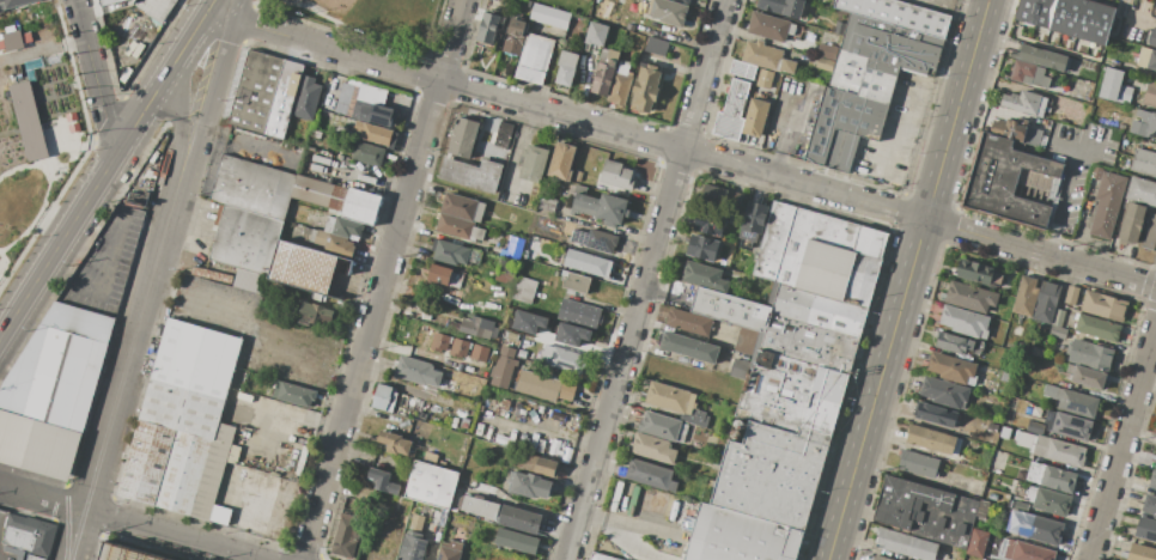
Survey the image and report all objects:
building: (682, 1)
building: (13, 2)
building: (108, 2)
building: (156, 7)
building: (781, 7)
building: (668, 11)
park: (367, 14)
building: (899, 14)
park: (379, 17)
building: (549, 17)
building: (1069, 17)
building: (1155, 18)
road: (1139, 20)
road: (195, 28)
building: (488, 28)
building: (772, 28)
building: (839, 28)
building: (596, 34)
building: (515, 37)
building: (1152, 38)
building: (10, 39)
building: (656, 45)
building: (827, 51)
building: (766, 56)
building: (1042, 57)
building: (534, 59)
building: (1148, 60)
road: (224, 62)
building: (825, 63)
building: (566, 68)
building: (743, 69)
building: (604, 72)
building: (1029, 73)
road: (96, 77)
building: (765, 78)
building: (620, 85)
building: (865, 85)
building: (1114, 87)
building: (645, 89)
building: (1070, 93)
building: (266, 95)
building: (1150, 95)
building: (371, 96)
building: (308, 98)
building: (343, 98)
building: (1024, 103)
building: (732, 111)
building: (364, 112)
road: (913, 112)
building: (381, 115)
building: (1144, 116)
building: (755, 117)
building: (26, 121)
crop: (34, 122)
road: (181, 126)
building: (1151, 126)
building: (1138, 128)
building: (1008, 129)
road: (785, 132)
building: (376, 134)
building: (503, 135)
building: (463, 138)
road: (80, 142)
road: (1079, 147)
road: (521, 150)
road: (680, 150)
building: (367, 153)
road: (190, 159)
road: (68, 160)
building: (561, 162)
building: (1144, 162)
building: (533, 163)
road: (25, 166)
building: (473, 174)
building: (1096, 174)
building: (616, 175)
road: (371, 177)
building: (1012, 183)
building: (253, 187)
building: (579, 189)
building: (1142, 190)
building: (320, 193)
road: (89, 196)
building: (725, 197)
road: (1060, 200)
building: (547, 203)
building: (1108, 205)
building: (360, 206)
building: (462, 207)
building: (602, 208)
road: (38, 214)
building: (577, 220)
building: (756, 220)
building: (713, 221)
building: (1131, 224)
road: (51, 225)
building: (343, 227)
building: (460, 227)
building: (1149, 232)
building: (244, 238)
building: (596, 241)
building: (335, 244)
building: (706, 246)
building: (513, 248)
road: (84, 252)
building: (455, 254)
building: (821, 254)
road: (1, 260)
road: (108, 263)
building: (588, 263)
building: (311, 270)
building: (505, 273)
building: (978, 273)
building: (710, 275)
building: (446, 276)
railway: (151, 279)
road: (382, 279)
road: (907, 279)
road: (645, 280)
building: (250, 281)
building: (576, 284)
road: (13, 287)
building: (524, 290)
building: (1071, 296)
building: (969, 297)
building: (1026, 297)
road: (197, 302)
building: (1046, 303)
building: (1103, 306)
building: (736, 308)
building: (820, 309)
building: (317, 314)
building: (579, 314)
building: (527, 321)
building: (965, 321)
building: (692, 322)
building: (1058, 324)
building: (479, 328)
building: (1097, 328)
building: (570, 334)
building: (512, 336)
building: (746, 341)
building: (440, 342)
building: (527, 342)
building: (810, 342)
building: (957, 343)
building: (458, 347)
building: (696, 347)
building: (1036, 352)
building: (479, 353)
building: (1089, 354)
building: (561, 358)
building: (503, 367)
building: (741, 369)
building: (951, 369)
building: (416, 371)
building: (1085, 376)
road: (124, 377)
building: (1006, 377)
building: (190, 379)
building: (544, 386)
building: (51, 389)
building: (1049, 391)
building: (944, 392)
building: (293, 394)
building: (384, 397)
building: (675, 397)
building: (1076, 403)
building: (1010, 404)
building: (932, 414)
building: (664, 425)
building: (1067, 425)
building: (1035, 427)
building: (1004, 433)
building: (779, 439)
building: (932, 439)
building: (1026, 439)
building: (394, 443)
road: (1122, 445)
building: (656, 448)
building: (1059, 451)
building: (431, 457)
building: (1155, 461)
building: (146, 462)
building: (541, 464)
building: (918, 464)
building: (653, 471)
building: (183, 473)
building: (1052, 476)
building: (214, 477)
building: (1152, 480)
building: (383, 481)
building: (432, 485)
building: (530, 485)
road: (2, 492)
building: (992, 497)
building: (1048, 500)
building: (1150, 505)
building: (480, 506)
building: (1020, 506)
building: (418, 507)
building: (981, 509)
building: (925, 511)
building: (432, 515)
building: (519, 519)
building: (416, 522)
road: (129, 523)
building: (1038, 528)
building: (1146, 529)
building: (34, 531)
building: (738, 535)
building: (345, 536)
building: (517, 541)
building: (976, 543)
building: (906, 544)
building: (412, 547)
building: (450, 550)
building: (1027, 552)
building: (13, 553)
building: (126, 553)
building: (1140, 553)
building: (600, 556)
building: (35, 558)
building: (880, 558)

